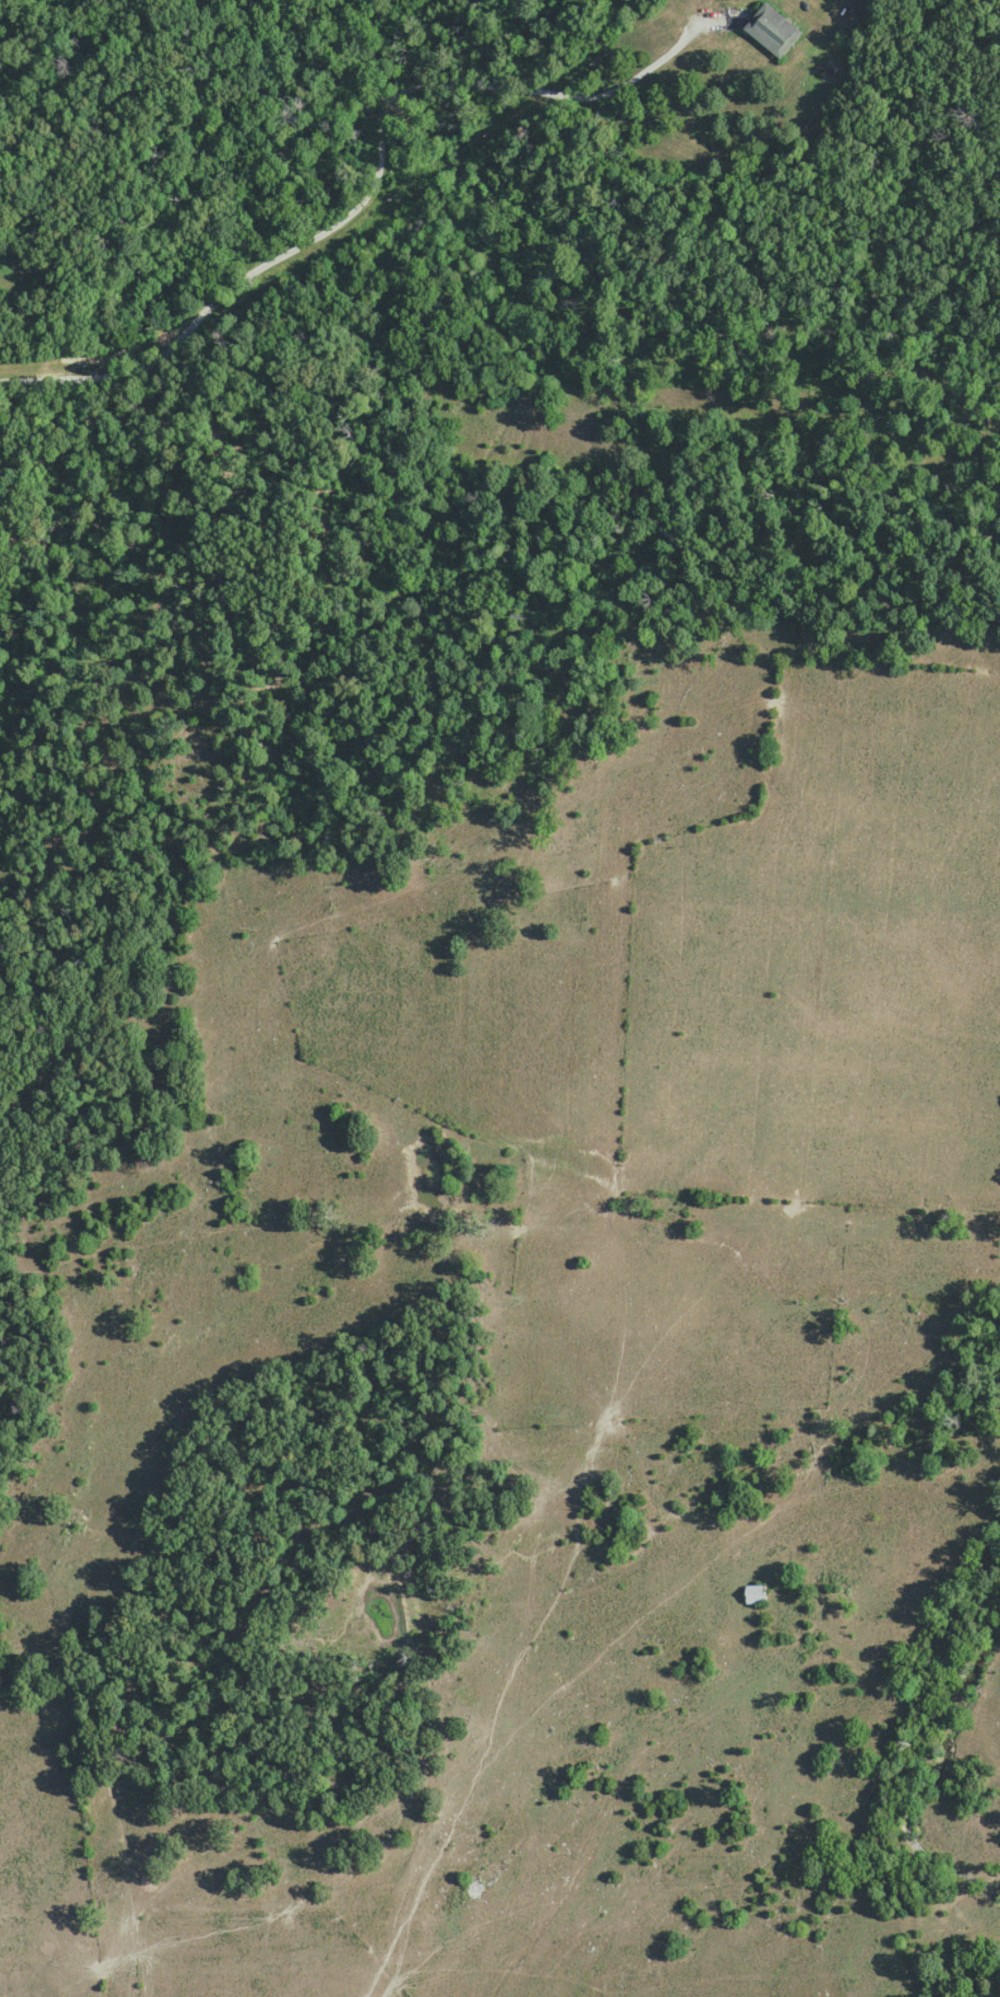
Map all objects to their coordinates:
building: (772, 30)
road: (372, 181)
building: (756, 1593)

